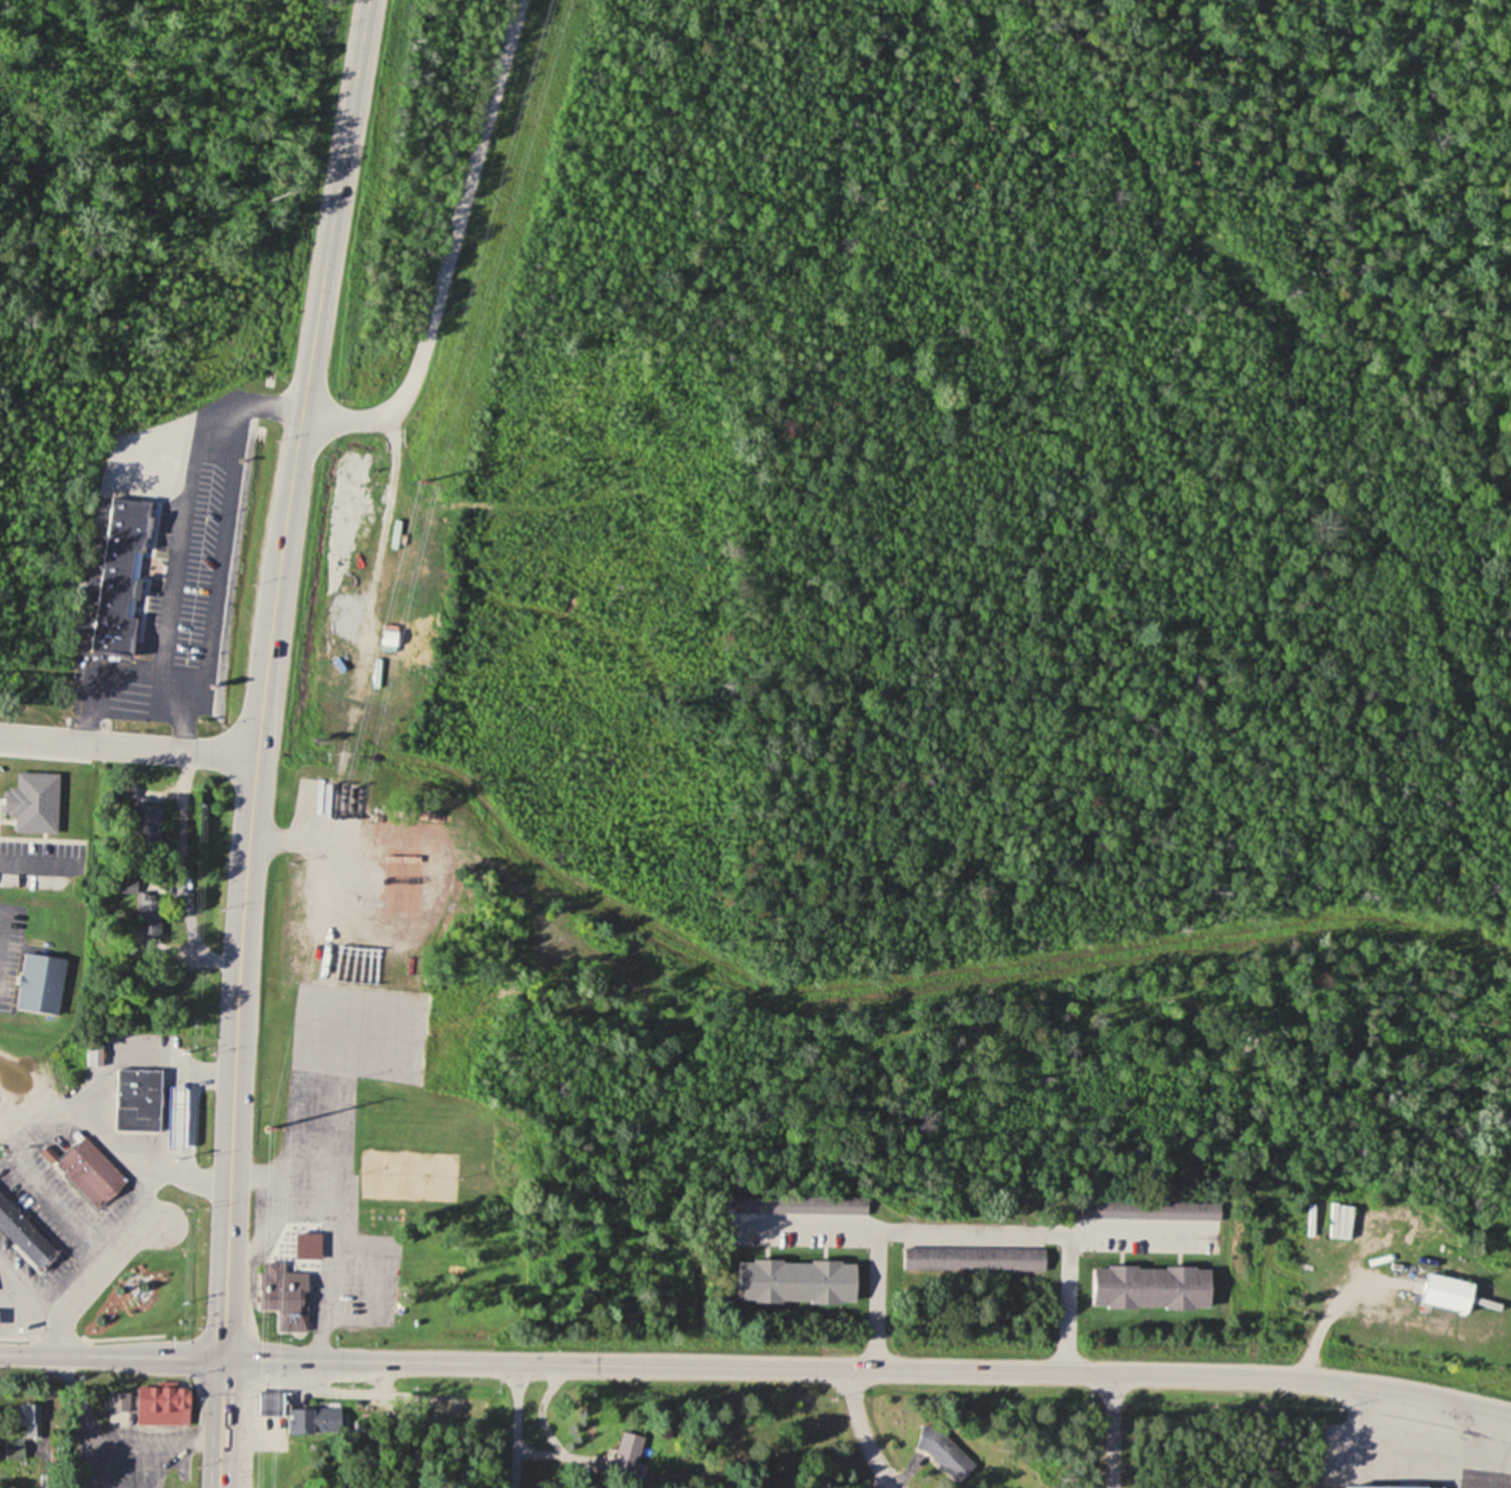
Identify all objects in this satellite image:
road: (447, 253)
power tower: (423, 481)
building: (119, 576)
road: (257, 740)
road: (127, 746)
building: (30, 792)
building: (147, 826)
building: (394, 842)
building: (154, 920)
building: (40, 985)
building: (94, 1055)
building: (137, 1100)
power tower: (263, 1126)
building: (90, 1172)
building: (796, 1204)
building: (1150, 1210)
building: (23, 1235)
building: (973, 1259)
road: (89, 1278)
building: (797, 1282)
building: (287, 1287)
building: (1151, 1288)
park: (148, 1293)
building: (1448, 1294)
road: (757, 1367)
building: (119, 1401)
building: (162, 1404)
building: (320, 1420)
road: (515, 1426)
road: (1112, 1429)
road: (863, 1430)
building: (23, 1451)
building: (627, 1454)
building: (1393, 1486)

